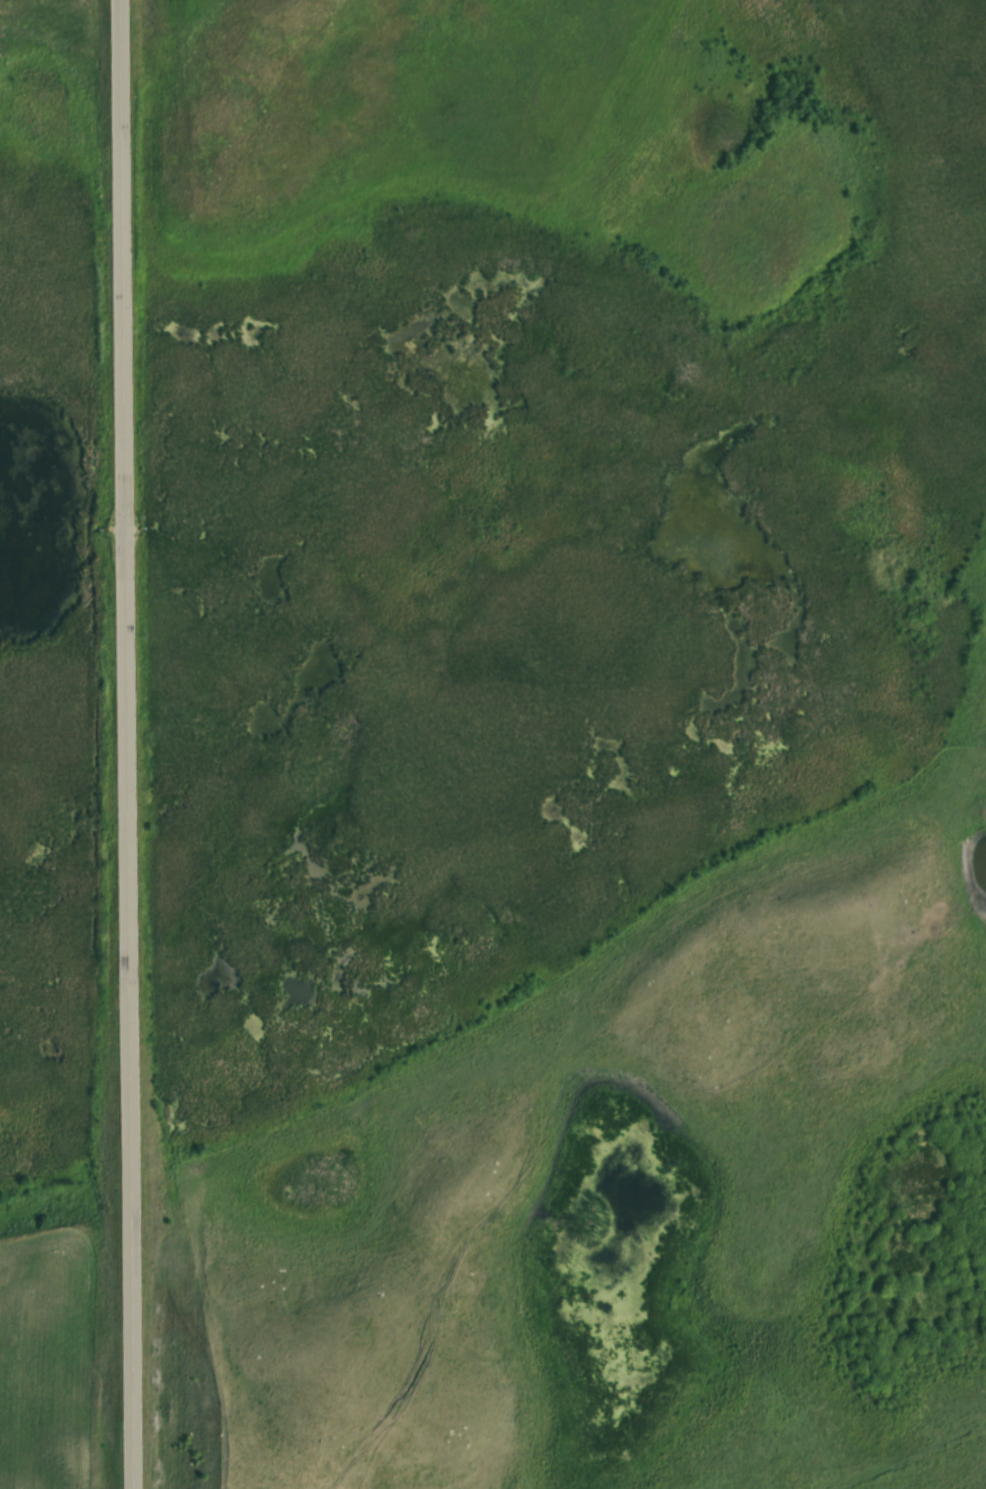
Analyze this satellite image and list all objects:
park: (54, 341)
road: (135, 744)

